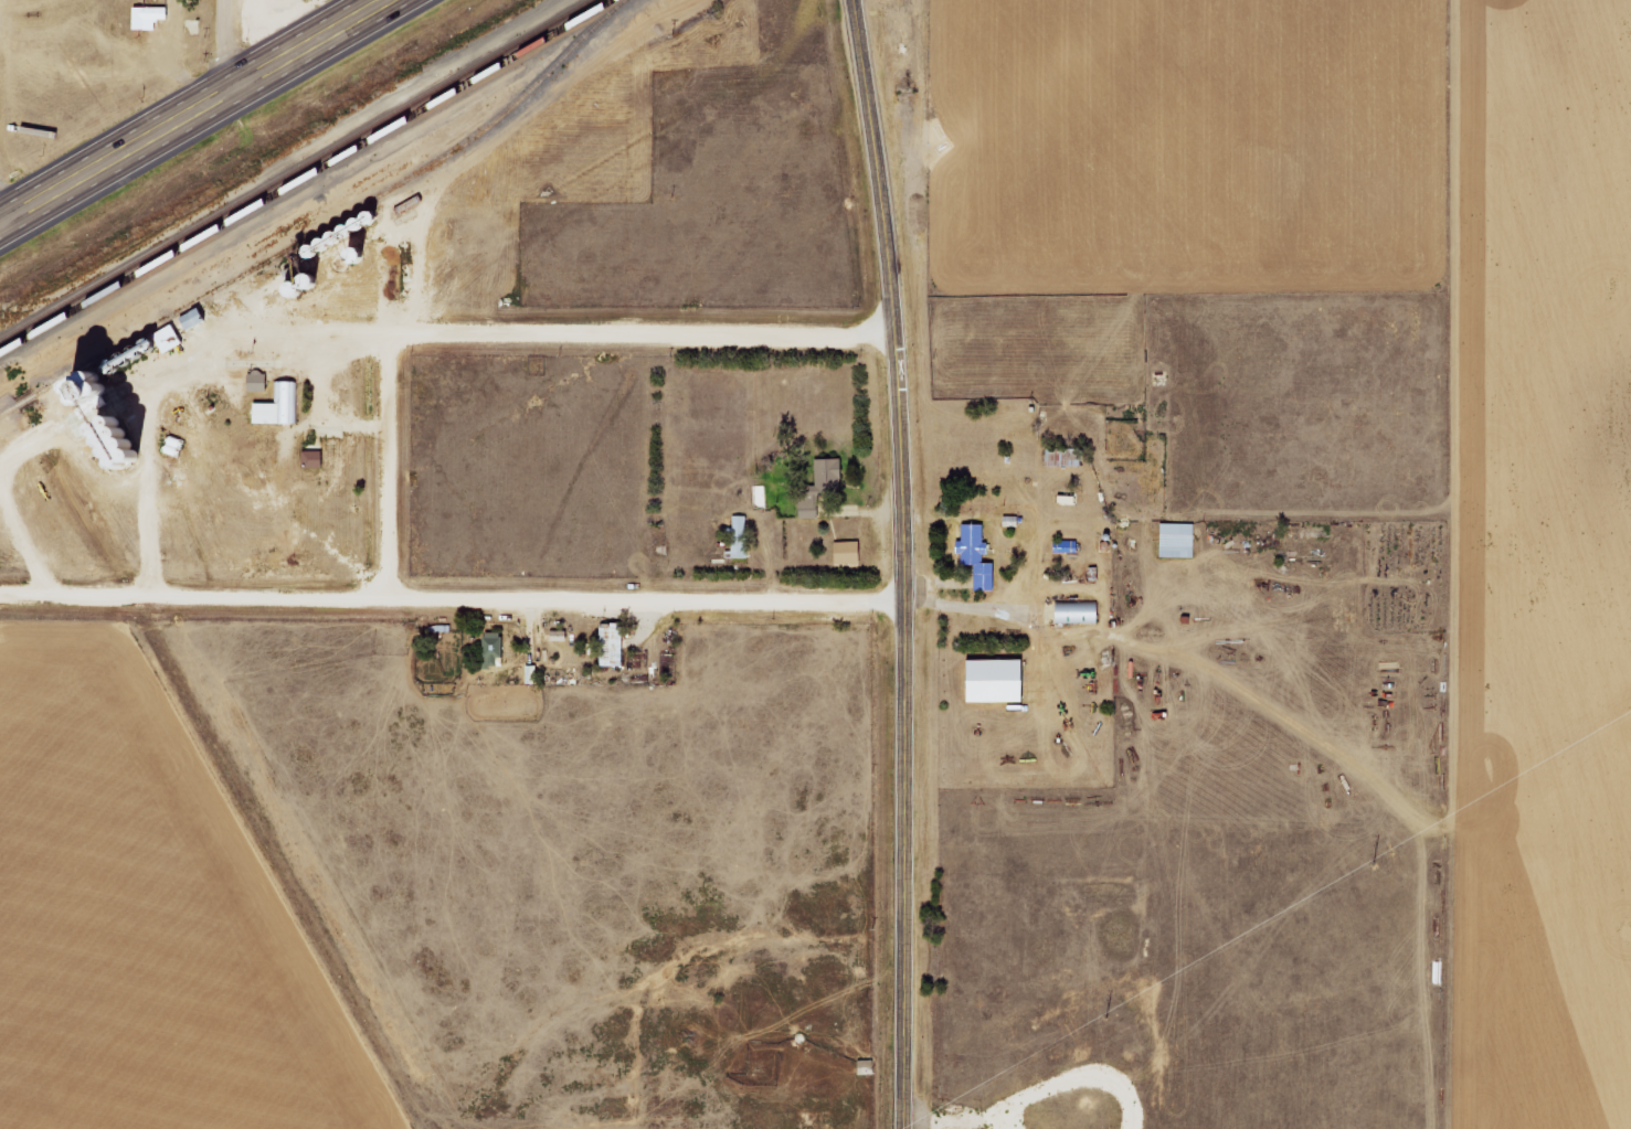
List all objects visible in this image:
building: (153, 17)
road: (225, 46)
road: (193, 111)
railway: (296, 171)
railway: (306, 177)
railway: (326, 225)
road: (411, 298)
road: (647, 333)
road: (319, 360)
building: (262, 383)
building: (103, 393)
building: (305, 402)
building: (283, 405)
building: (1067, 457)
building: (317, 459)
road: (384, 465)
building: (834, 469)
building: (812, 509)
building: (1182, 541)
building: (743, 547)
building: (851, 553)
building: (981, 556)
road: (902, 563)
road: (451, 598)
building: (1082, 613)
building: (616, 646)
building: (532, 675)
building: (1003, 681)
power tower: (1392, 852)
power tower: (1097, 1026)

